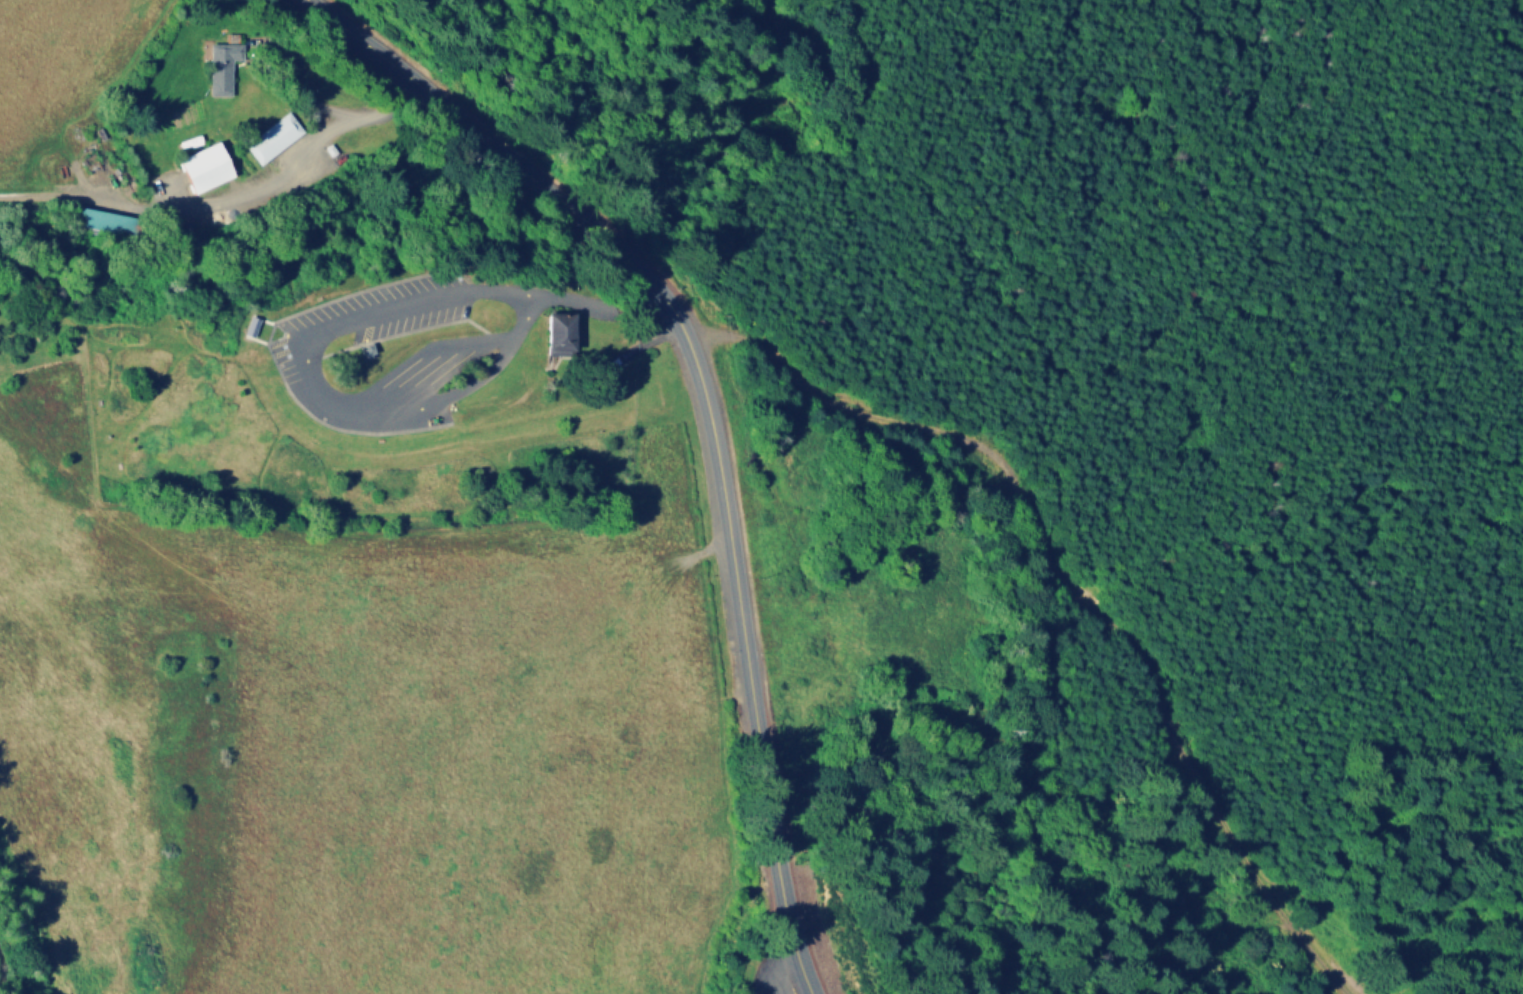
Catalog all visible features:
road: (369, 45)
building: (222, 65)
road: (317, 100)
building: (270, 136)
road: (492, 141)
building: (202, 167)
road: (224, 192)
road: (654, 282)
road: (611, 304)
building: (250, 324)
building: (556, 331)
parking lot: (296, 349)
road: (303, 380)
road: (746, 647)
road: (793, 943)
road: (776, 962)
parking lot: (764, 979)

